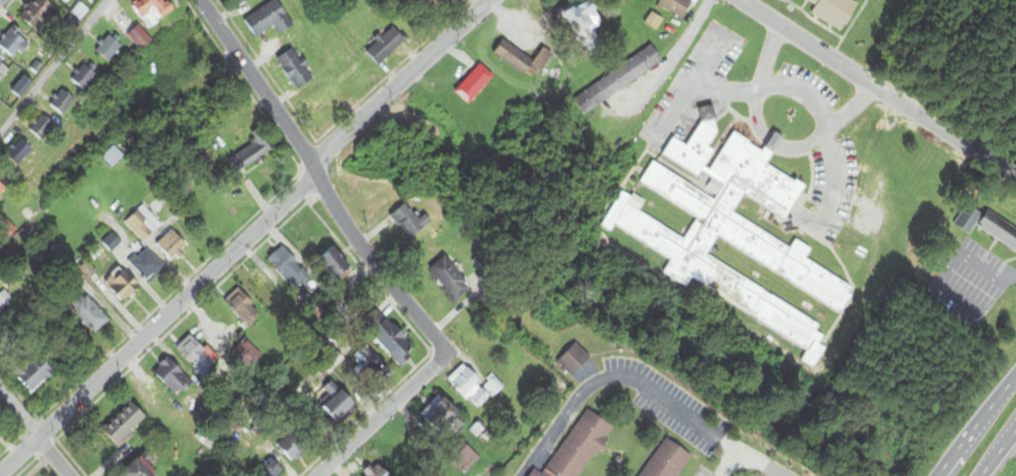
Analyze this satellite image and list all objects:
building: (677, 7)
building: (150, 11)
building: (834, 12)
building: (37, 14)
building: (584, 19)
building: (269, 20)
building: (137, 37)
building: (14, 44)
building: (385, 46)
building: (109, 48)
building: (175, 54)
building: (521, 60)
road: (53, 65)
road: (679, 66)
building: (295, 70)
building: (3, 72)
building: (84, 77)
building: (621, 78)
road: (398, 80)
building: (474, 85)
road: (879, 87)
building: (22, 88)
building: (179, 88)
building: (62, 103)
building: (329, 105)
building: (41, 128)
road: (826, 136)
road: (770, 143)
building: (252, 152)
building: (20, 153)
building: (113, 158)
road: (318, 181)
building: (2, 189)
building: (968, 219)
building: (408, 223)
building: (143, 224)
building: (731, 230)
building: (7, 231)
building: (998, 231)
building: (172, 246)
building: (337, 265)
building: (146, 266)
building: (287, 267)
building: (449, 280)
building: (123, 286)
building: (263, 286)
building: (3, 304)
building: (239, 305)
building: (89, 314)
road: (157, 326)
building: (220, 332)
building: (394, 343)
building: (245, 350)
building: (195, 356)
building: (34, 374)
road: (615, 376)
building: (172, 377)
building: (474, 387)
building: (337, 403)
building: (443, 416)
road: (379, 418)
building: (125, 424)
road: (978, 427)
road: (33, 436)
building: (208, 437)
building: (293, 445)
building: (580, 447)
road: (1002, 458)
building: (671, 462)
road: (757, 462)
road: (726, 464)
building: (139, 470)
building: (270, 470)
building: (535, 474)

